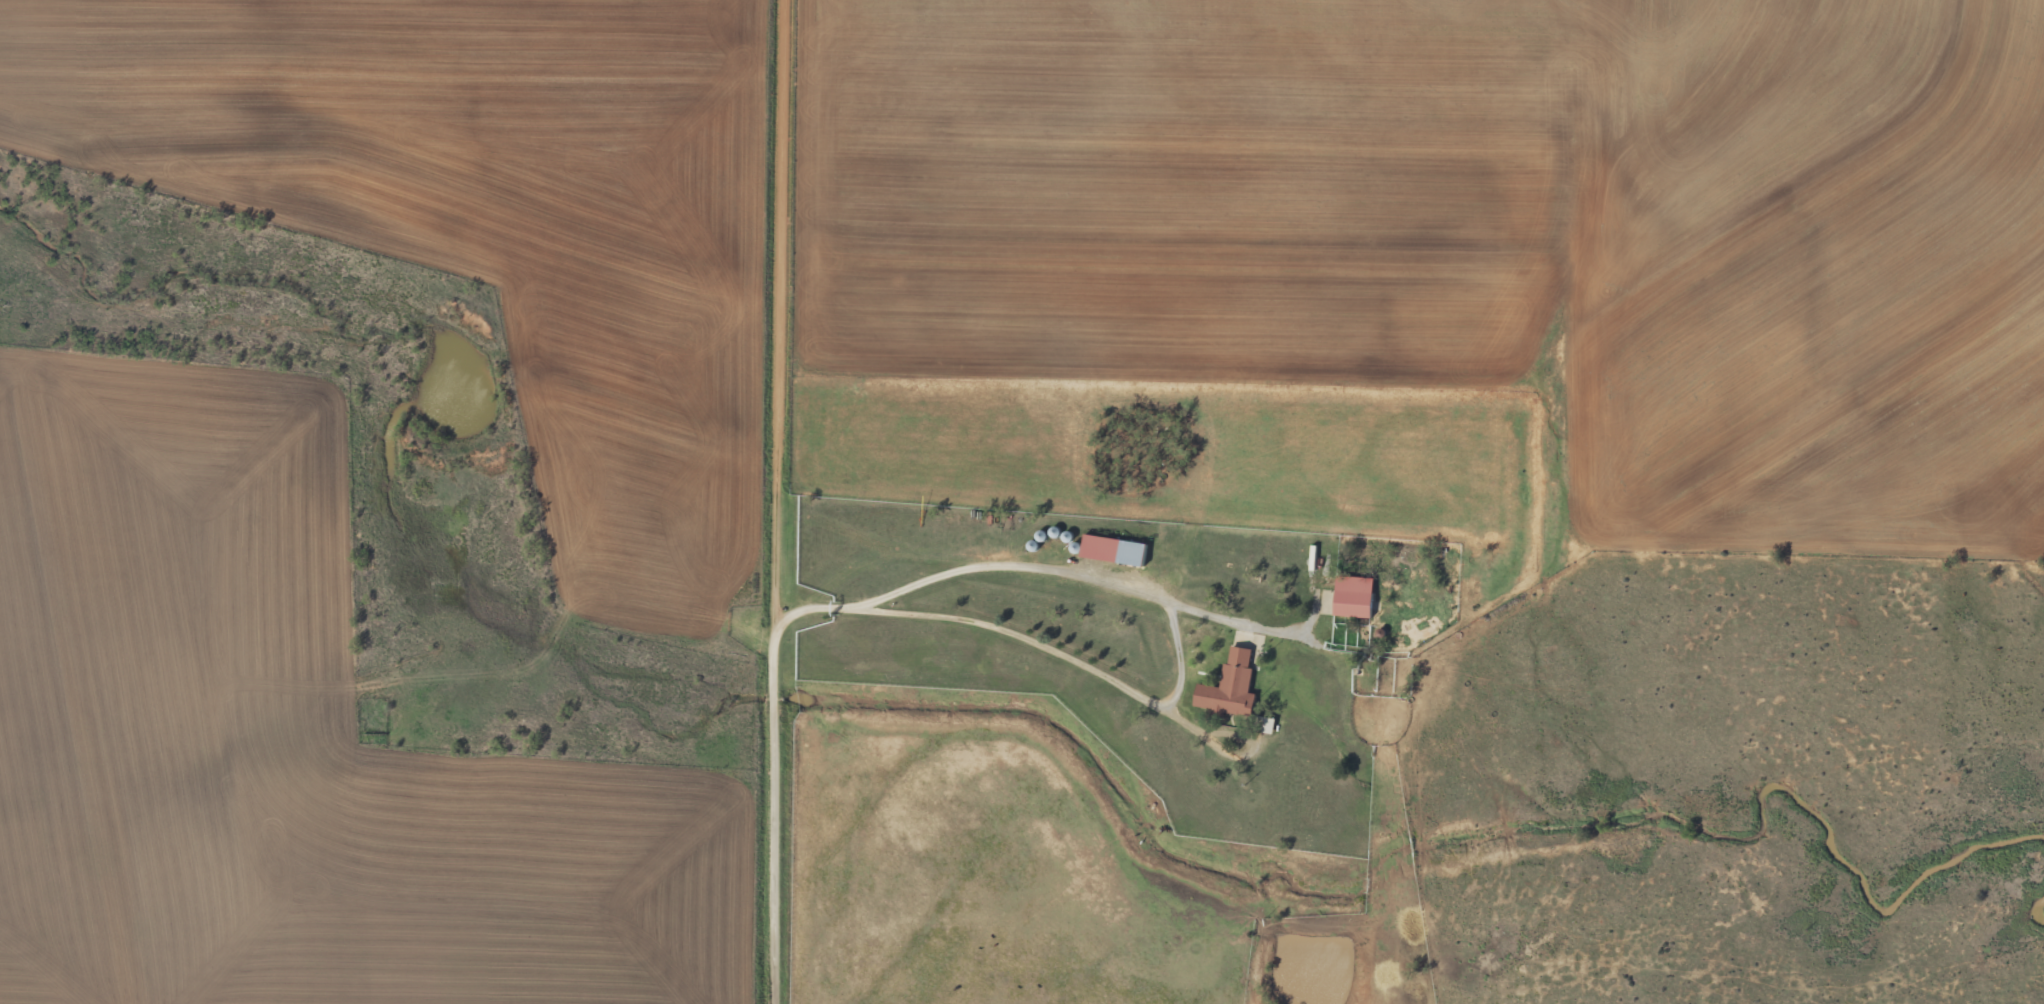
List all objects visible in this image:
road: (785, 502)
building: (1120, 551)
building: (1348, 599)
road: (649, 626)
building: (1234, 683)
park: (377, 721)
road: (1220, 755)

